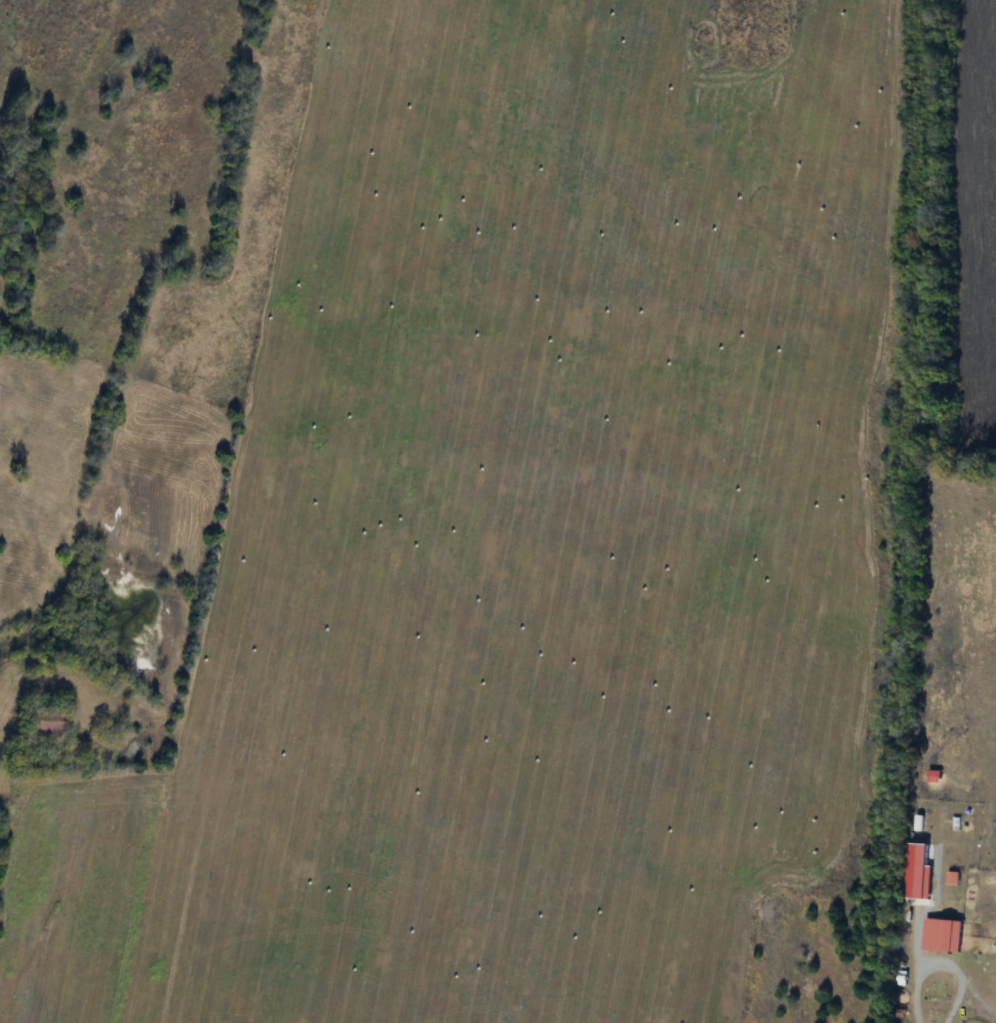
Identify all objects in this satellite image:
road: (941, 965)

